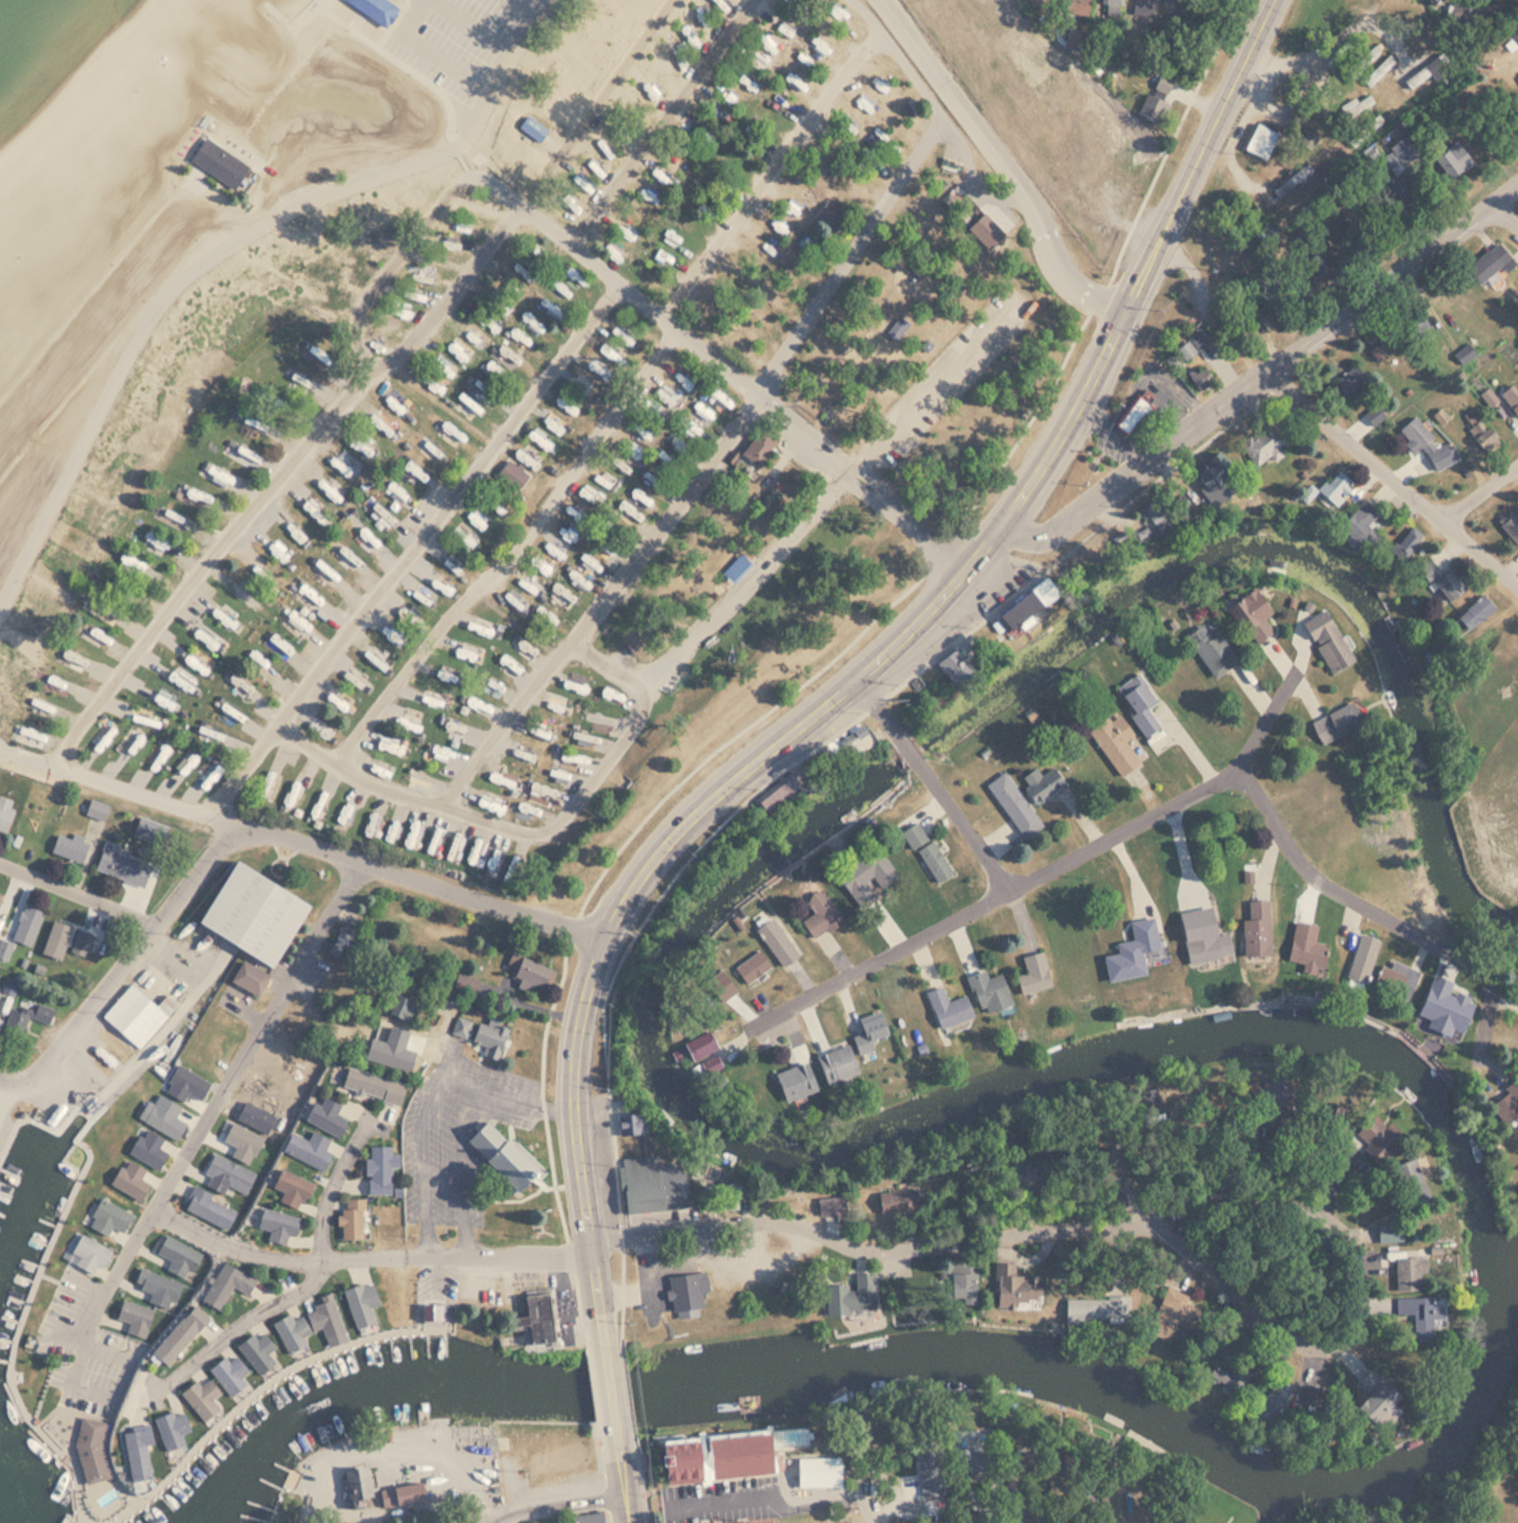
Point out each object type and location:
building: (1076, 7)
building: (1112, 8)
building: (375, 9)
building: (1149, 11)
road: (534, 13)
road: (393, 22)
road: (292, 28)
road: (482, 31)
building: (1422, 39)
parking lot: (466, 45)
road: (402, 65)
building: (1379, 70)
building: (1417, 76)
building: (1162, 84)
building: (1356, 106)
building: (1149, 108)
road: (937, 110)
road: (665, 119)
building: (531, 128)
building: (1310, 139)
building: (1261, 141)
building: (1399, 155)
building: (1452, 156)
road: (1008, 161)
building: (218, 162)
building: (1294, 179)
road: (1506, 212)
building: (831, 213)
road: (223, 255)
road: (401, 263)
building: (1490, 263)
building: (503, 310)
road: (680, 310)
building: (489, 323)
building: (532, 323)
building: (1415, 323)
building: (898, 329)
building: (473, 341)
building: (1192, 343)
building: (301, 348)
building: (1465, 355)
road: (717, 358)
building: (444, 367)
road: (1267, 374)
building: (289, 379)
building: (1200, 379)
building: (1351, 382)
building: (434, 386)
building: (477, 388)
road: (351, 393)
building: (1489, 397)
building: (714, 398)
building: (1511, 399)
park: (487, 404)
building: (396, 407)
building: (474, 410)
building: (706, 414)
building: (1130, 416)
building: (1374, 416)
building: (381, 427)
building: (691, 429)
building: (1477, 430)
building: (258, 433)
building: (449, 433)
building: (1414, 434)
building: (679, 444)
building: (1261, 444)
building: (758, 448)
building: (247, 452)
building: (432, 453)
building: (345, 466)
building: (414, 470)
building: (215, 471)
building: (513, 473)
road: (1394, 477)
building: (1211, 478)
building: (1332, 488)
building: (638, 494)
building: (398, 495)
road: (1483, 495)
building: (195, 498)
building: (771, 500)
road: (821, 502)
building: (1175, 505)
building: (311, 508)
road: (452, 510)
building: (630, 510)
building: (383, 516)
building: (474, 517)
building: (178, 521)
building: (1359, 524)
building: (1510, 526)
building: (293, 528)
road: (650, 533)
building: (365, 535)
building: (1406, 542)
building: (159, 545)
road: (1062, 556)
building: (735, 569)
road: (459, 570)
building: (1427, 571)
building: (330, 576)
building: (574, 576)
building: (270, 580)
building: (1448, 585)
building: (531, 586)
building: (562, 594)
building: (310, 596)
building: (211, 606)
building: (280, 608)
building: (472, 609)
building: (1249, 609)
building: (1015, 611)
building: (1474, 611)
building: (548, 617)
building: (236, 629)
building: (205, 633)
building: (91, 637)
building: (521, 639)
building: (1324, 639)
building: (1206, 643)
building: (502, 651)
building: (69, 656)
road: (881, 662)
building: (258, 663)
building: (183, 666)
building: (951, 667)
building: (240, 685)
building: (1135, 694)
building: (62, 700)
building: (466, 700)
building: (344, 707)
building: (440, 714)
building: (1330, 722)
building: (107, 723)
building: (331, 733)
building: (559, 735)
building: (133, 737)
building: (423, 740)
building: (1110, 741)
building: (162, 746)
building: (533, 747)
building: (189, 756)
building: (215, 764)
building: (242, 768)
building: (522, 774)
building: (1040, 775)
building: (270, 779)
road: (935, 786)
building: (297, 791)
building: (503, 797)
building: (1010, 798)
building: (322, 801)
building: (96, 809)
building: (4, 812)
building: (348, 812)
building: (487, 822)
building: (404, 825)
building: (430, 832)
road: (298, 838)
building: (460, 841)
building: (925, 844)
building: (69, 848)
building: (120, 865)
road: (1053, 868)
building: (867, 872)
road: (79, 896)
building: (0, 901)
building: (815, 910)
building: (249, 915)
road: (1387, 918)
road: (645, 919)
building: (1251, 921)
building: (29, 922)
building: (1141, 927)
building: (1198, 928)
building: (774, 935)
building: (1301, 944)
building: (1356, 955)
building: (1114, 959)
building: (747, 960)
building: (1030, 971)
road: (120, 972)
building: (525, 973)
building: (1394, 975)
building: (247, 978)
building: (463, 983)
building: (986, 987)
building: (1443, 996)
building: (0, 997)
building: (944, 1002)
building: (403, 1003)
building: (136, 1016)
building: (24, 1020)
building: (867, 1026)
building: (461, 1027)
road: (260, 1032)
building: (489, 1036)
building: (391, 1049)
building: (695, 1052)
building: (835, 1058)
building: (789, 1075)
building: (186, 1082)
building: (371, 1086)
road: (9, 1087)
road: (544, 1090)
building: (1503, 1108)
building: (1272, 1111)
building: (164, 1114)
building: (254, 1116)
building: (325, 1117)
building: (627, 1125)
parking lot: (454, 1133)
building: (244, 1140)
building: (1369, 1144)
building: (306, 1148)
building: (148, 1149)
building: (504, 1155)
building: (1111, 1160)
building: (377, 1169)
building: (229, 1173)
building: (1407, 1173)
building: (1022, 1176)
road: (1256, 1177)
building: (130, 1180)
building: (287, 1181)
road: (336, 1183)
building: (651, 1185)
road: (549, 1186)
road: (517, 1199)
building: (892, 1201)
building: (828, 1206)
building: (210, 1208)
building: (110, 1215)
building: (353, 1217)
road: (1144, 1221)
building: (274, 1225)
building: (1384, 1229)
building: (173, 1247)
building: (89, 1252)
road: (367, 1255)
road: (623, 1266)
building: (1408, 1273)
building: (154, 1282)
building: (220, 1282)
building: (962, 1287)
building: (1014, 1287)
building: (685, 1293)
building: (854, 1296)
building: (358, 1298)
road: (103, 1299)
building: (427, 1310)
building: (1096, 1310)
building: (1170, 1314)
building: (535, 1315)
parking lot: (62, 1316)
building: (134, 1316)
building: (1413, 1316)
building: (322, 1319)
building: (176, 1328)
road: (234, 1328)
building: (288, 1328)
road: (621, 1334)
building: (254, 1349)
river: (891, 1365)
parking lot: (104, 1366)
building: (225, 1371)
building: (1224, 1371)
road: (609, 1388)
building: (196, 1394)
building: (1375, 1399)
building: (1273, 1400)
road: (628, 1404)
building: (165, 1425)
building: (558, 1449)
building: (91, 1450)
building: (131, 1451)
building: (724, 1453)
building: (969, 1464)
building: (817, 1470)
building: (1031, 1471)
road: (602, 1473)
building: (929, 1482)
building: (356, 1484)
road: (643, 1485)
road: (625, 1491)
building: (401, 1492)
river: (14, 1493)
road: (874, 1498)
road: (558, 1503)
road: (711, 1512)
building: (1041, 1513)
building: (585, 1517)
parking lot: (440, 1520)
building: (938, 1520)

